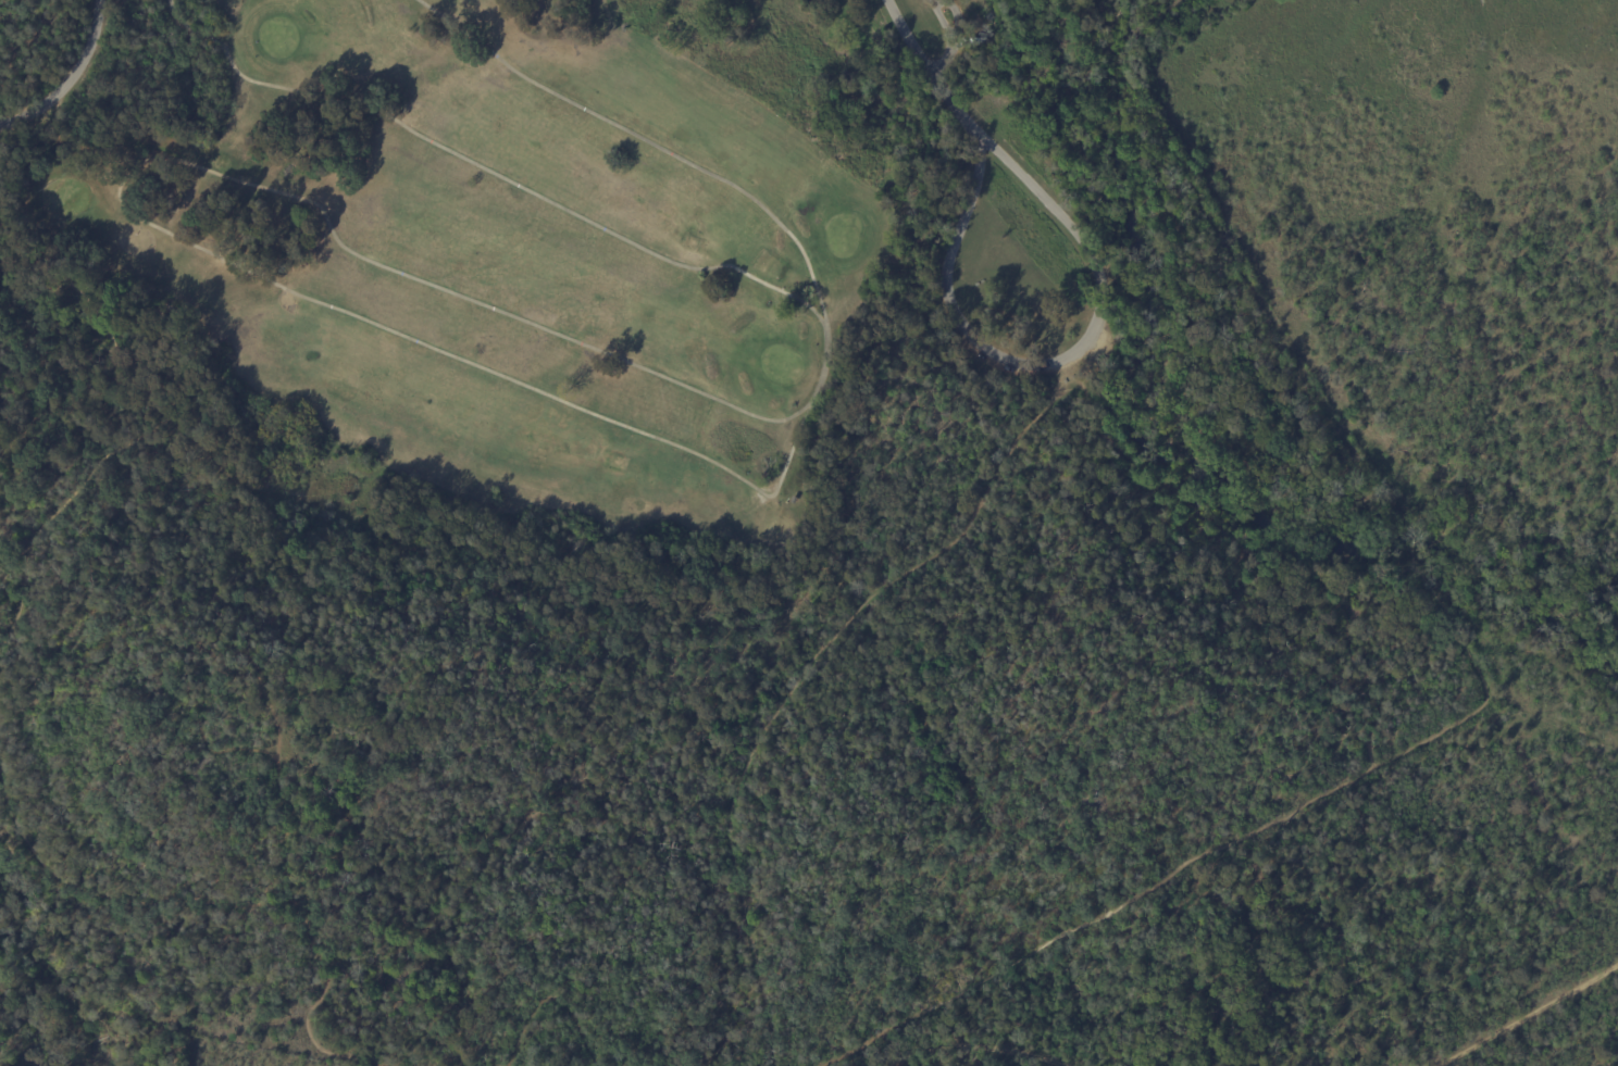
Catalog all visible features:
road: (949, 38)
road: (926, 71)
road: (67, 77)
road: (1046, 364)
park: (682, 521)

